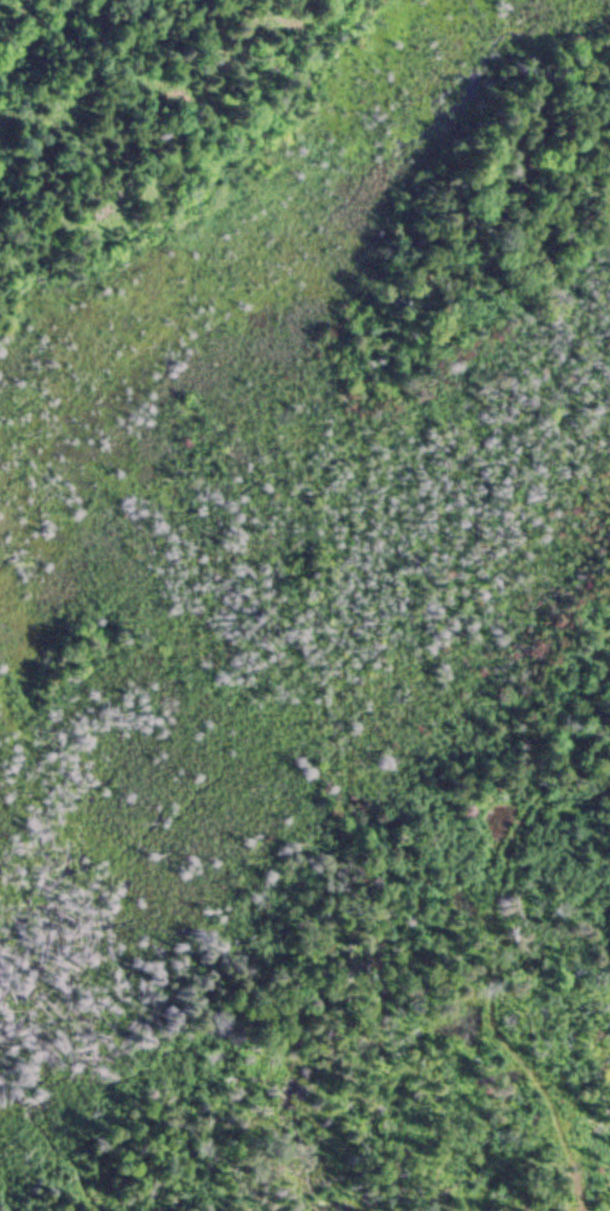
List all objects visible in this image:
park: (310, 1157)

